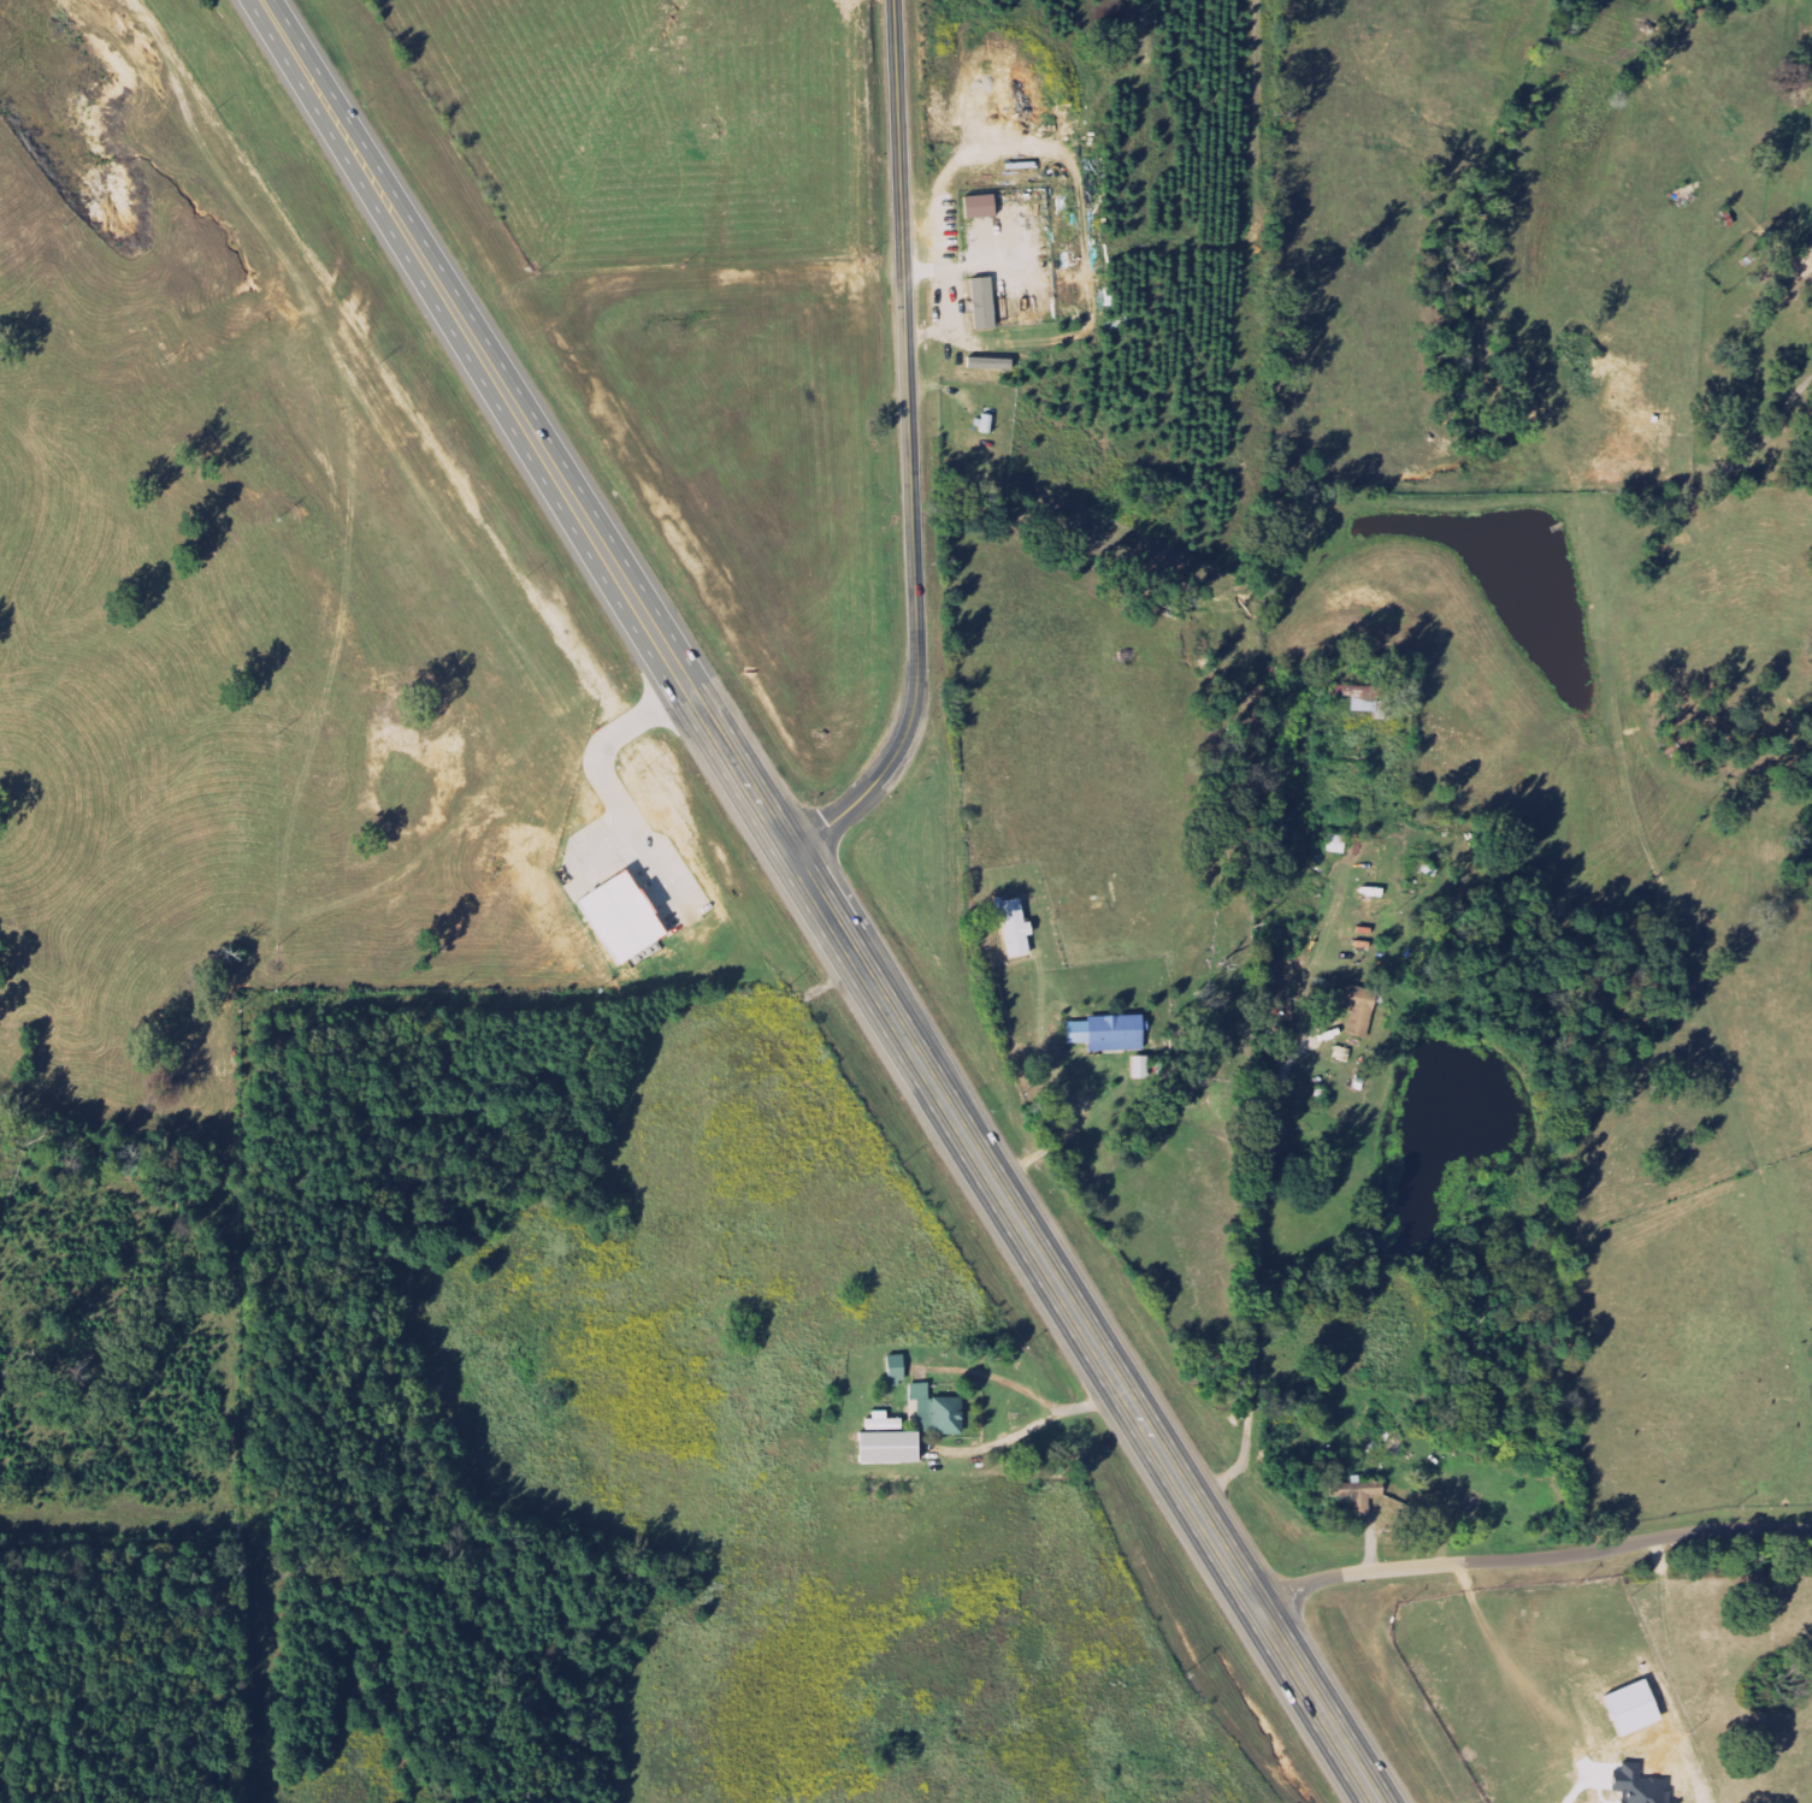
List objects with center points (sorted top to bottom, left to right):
building: (982, 206)
building: (986, 303)
road: (537, 427)
road: (911, 451)
building: (1363, 698)
building: (1338, 843)
building: (625, 917)
building: (1016, 927)
building: (1358, 998)
building: (1111, 1033)
road: (1251, 1295)
road: (1085, 1329)
building: (898, 1370)
building: (939, 1411)
building: (891, 1441)
road: (1533, 1557)

